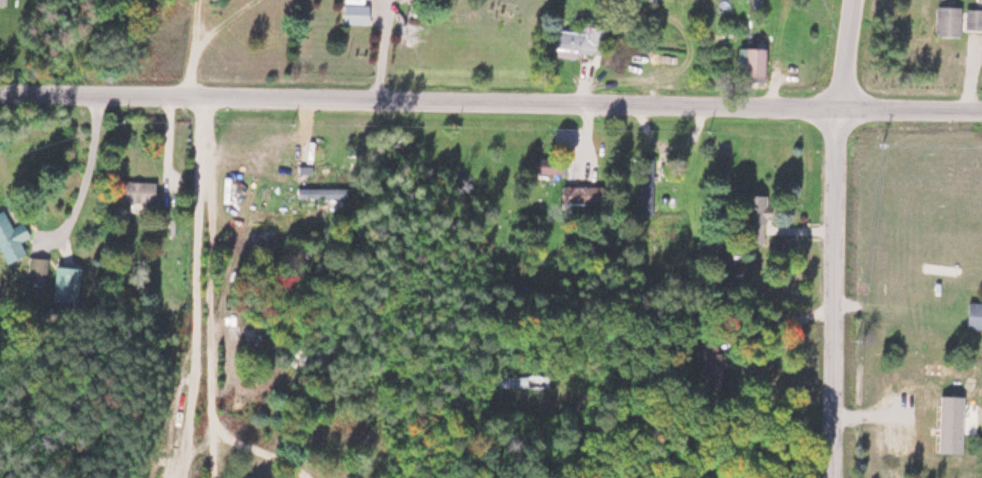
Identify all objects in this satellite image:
building: (354, 13)
building: (973, 19)
building: (946, 20)
building: (579, 39)
road: (196, 46)
road: (845, 55)
building: (751, 62)
road: (15, 91)
road: (212, 95)
road: (688, 106)
building: (547, 166)
road: (83, 183)
building: (645, 185)
building: (133, 191)
building: (319, 193)
building: (578, 193)
building: (753, 218)
building: (9, 238)
road: (65, 248)
building: (35, 267)
building: (62, 285)
road: (836, 293)
building: (973, 314)
building: (709, 364)
building: (950, 368)
building: (522, 381)

